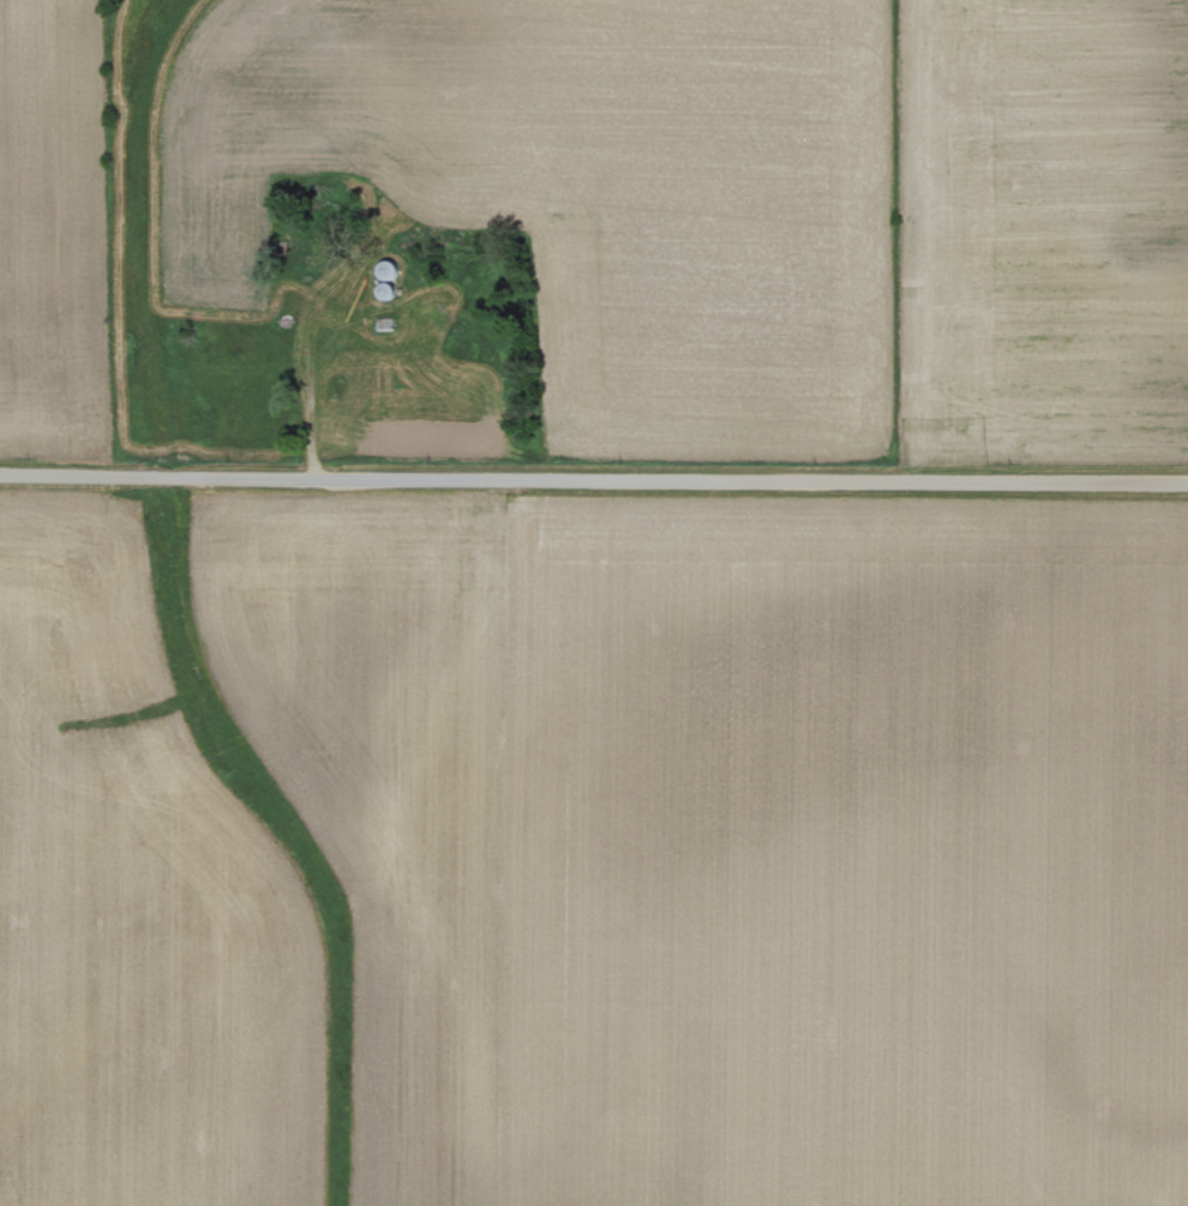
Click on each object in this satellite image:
road: (594, 478)

